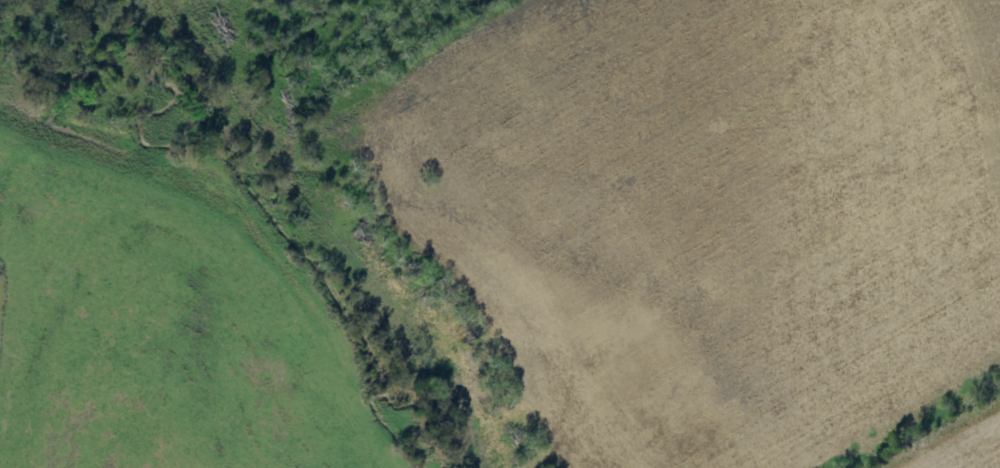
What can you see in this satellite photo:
road: (761, 236)

